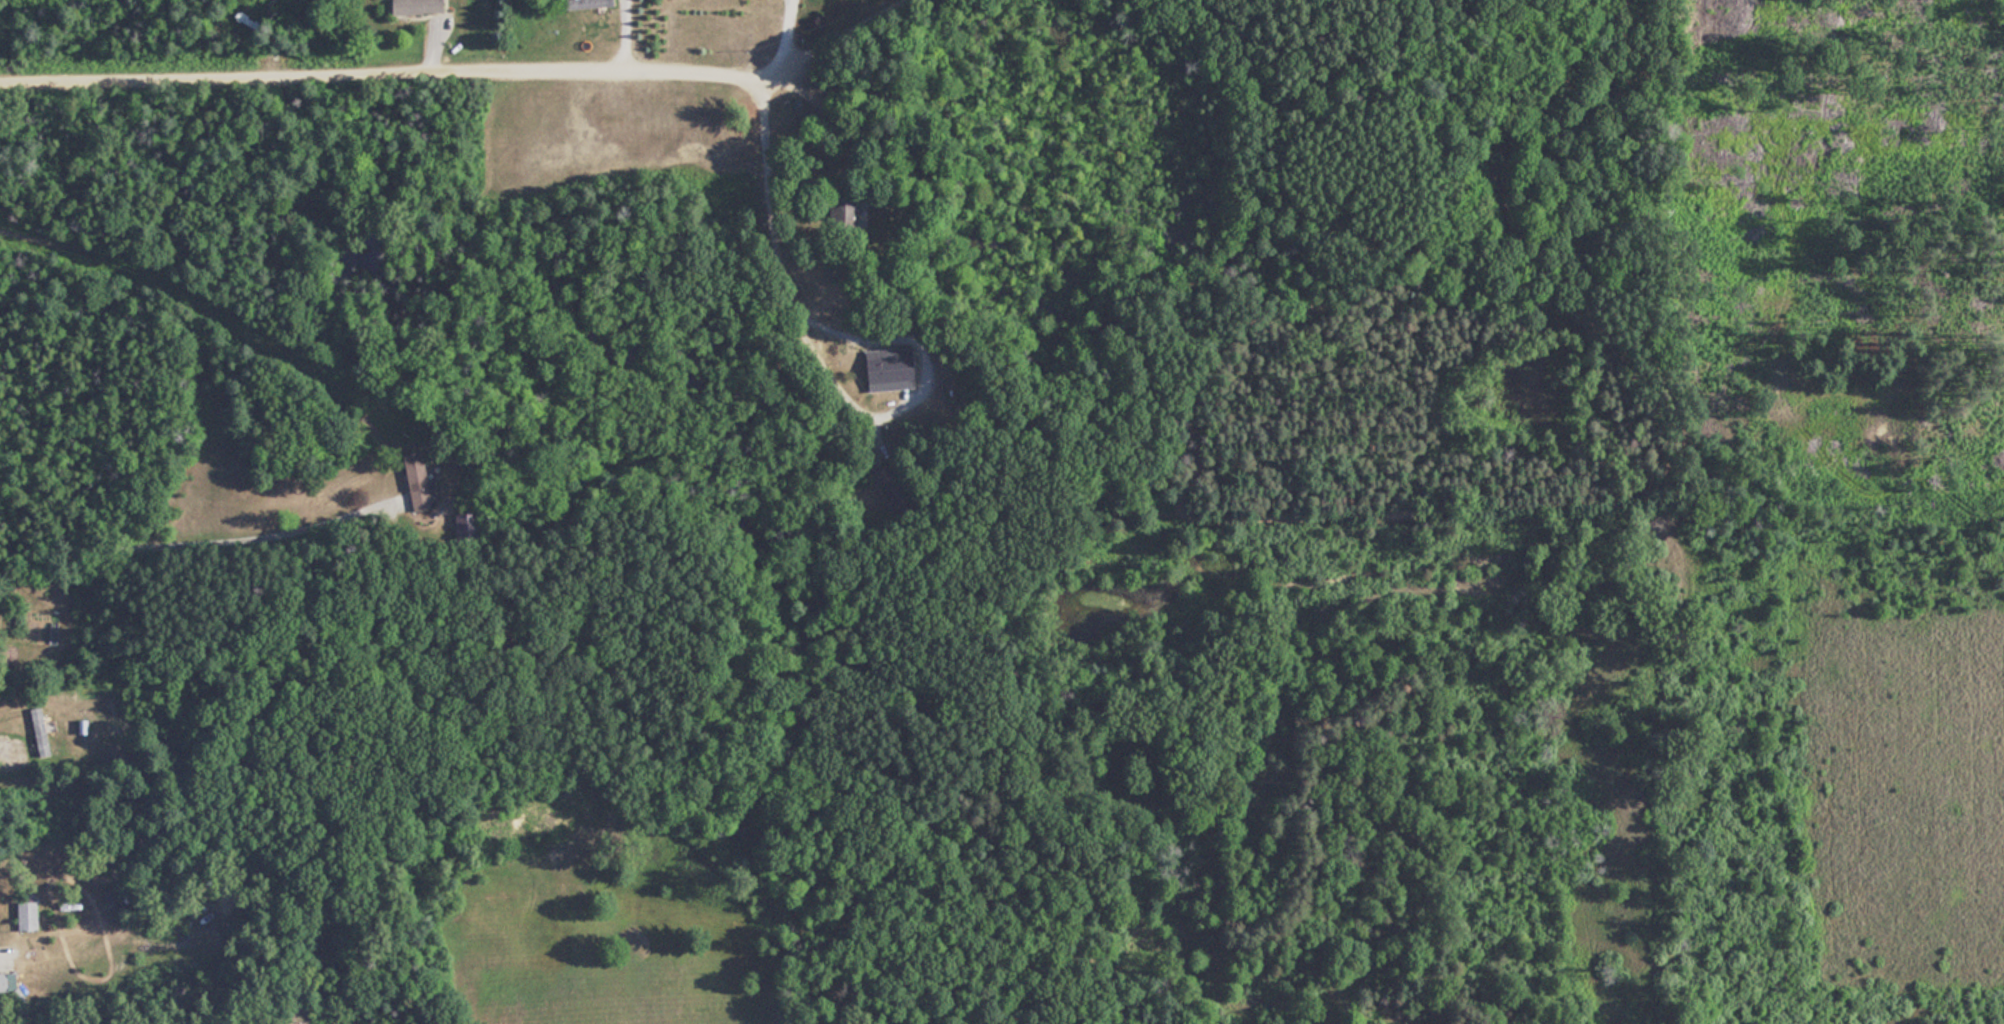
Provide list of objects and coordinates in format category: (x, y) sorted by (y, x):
building: (604, 2)
building: (420, 6)
road: (625, 34)
road: (787, 37)
road: (408, 72)
road: (852, 334)
building: (891, 369)
building: (421, 482)
road: (200, 539)
park: (1488, 663)
building: (42, 732)
road: (6, 744)
building: (29, 916)
road: (3, 947)

